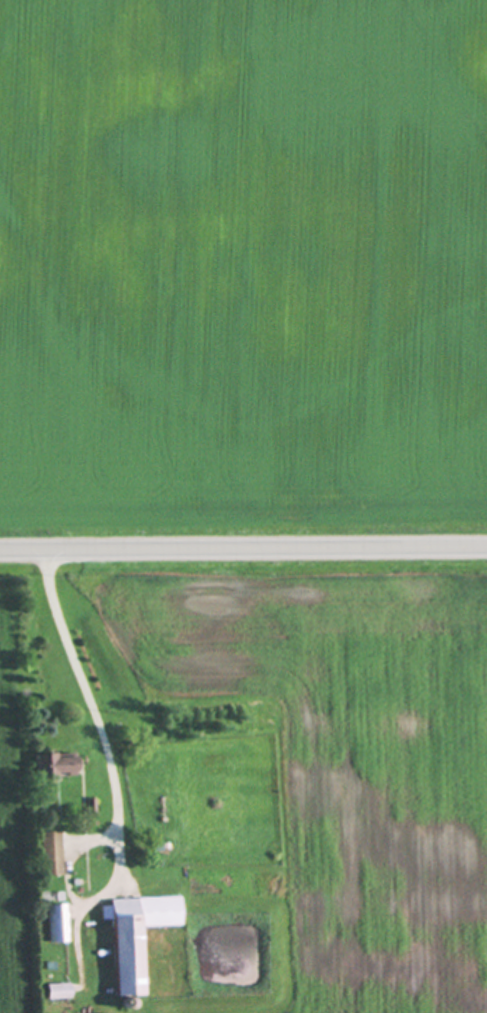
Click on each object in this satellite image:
road: (243, 549)
road: (90, 715)
building: (57, 766)
building: (49, 852)
building: (54, 925)
building: (135, 939)
building: (57, 993)

